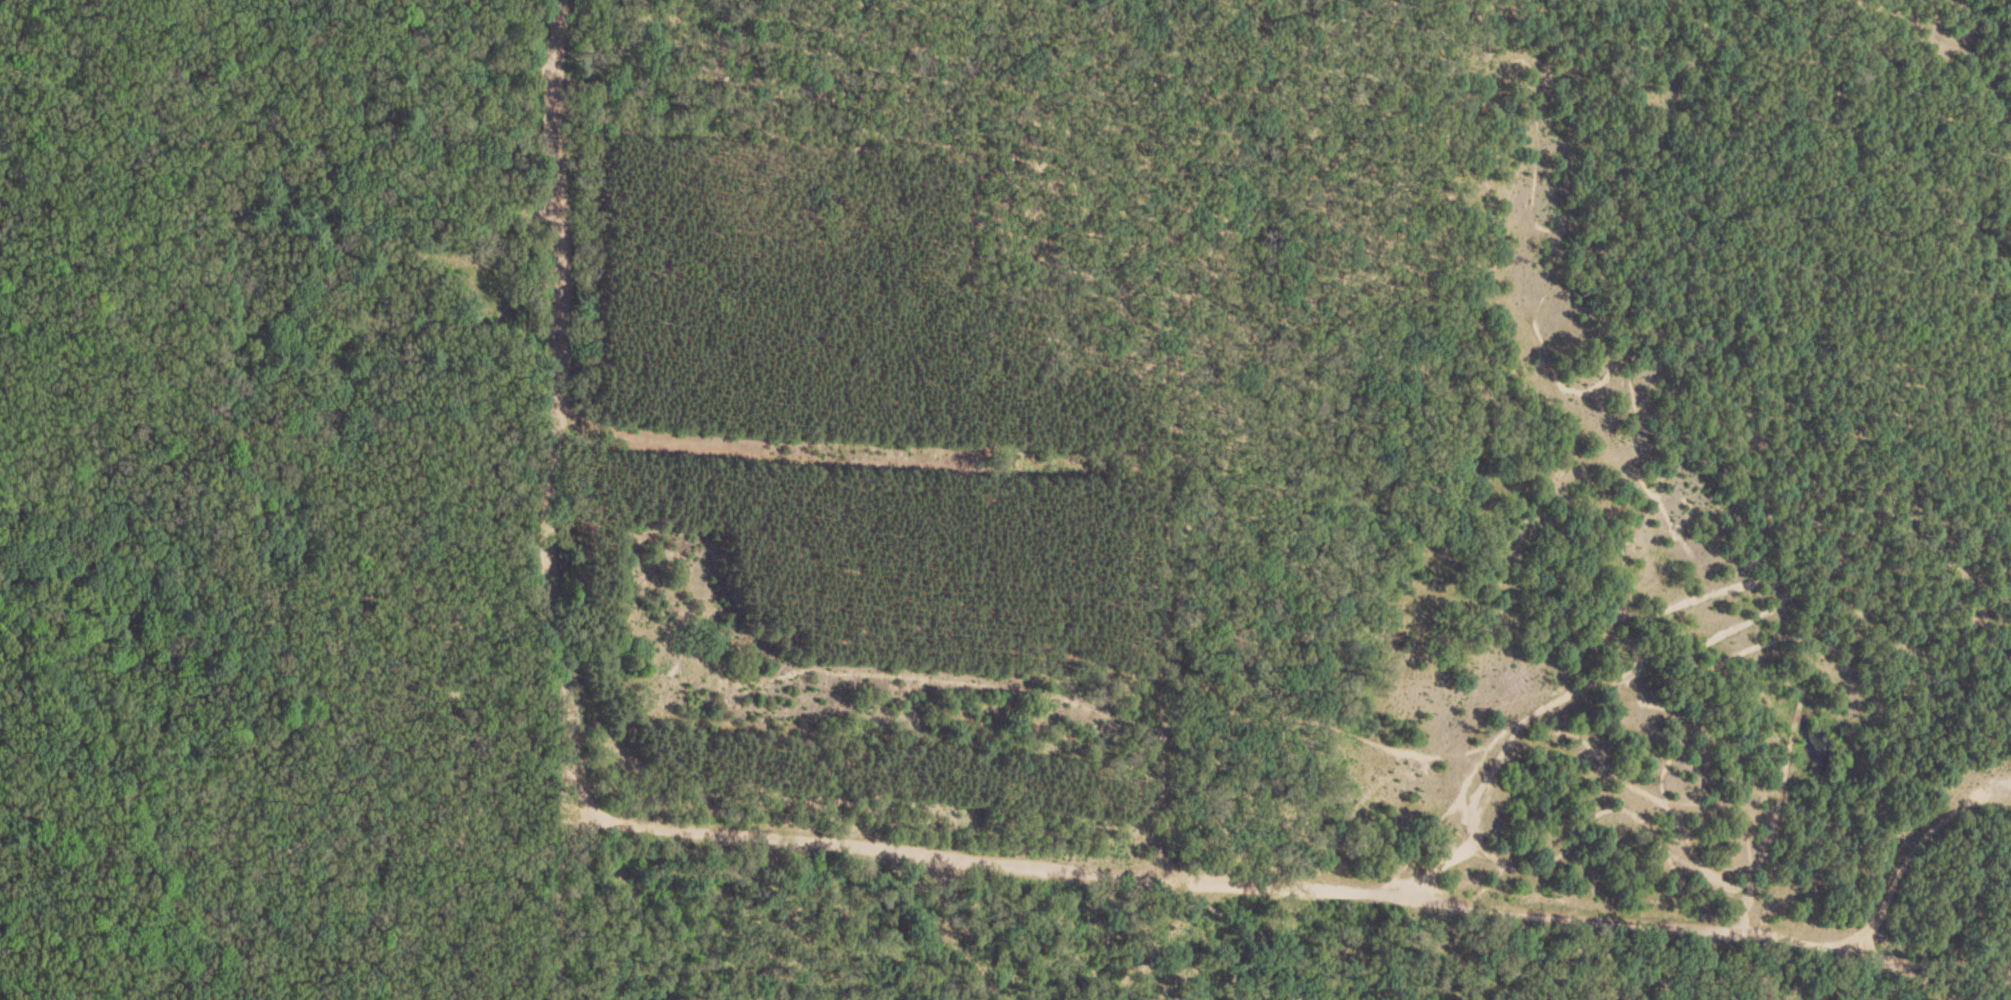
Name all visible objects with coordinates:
road: (550, 500)
road: (1287, 832)
road: (1278, 877)

